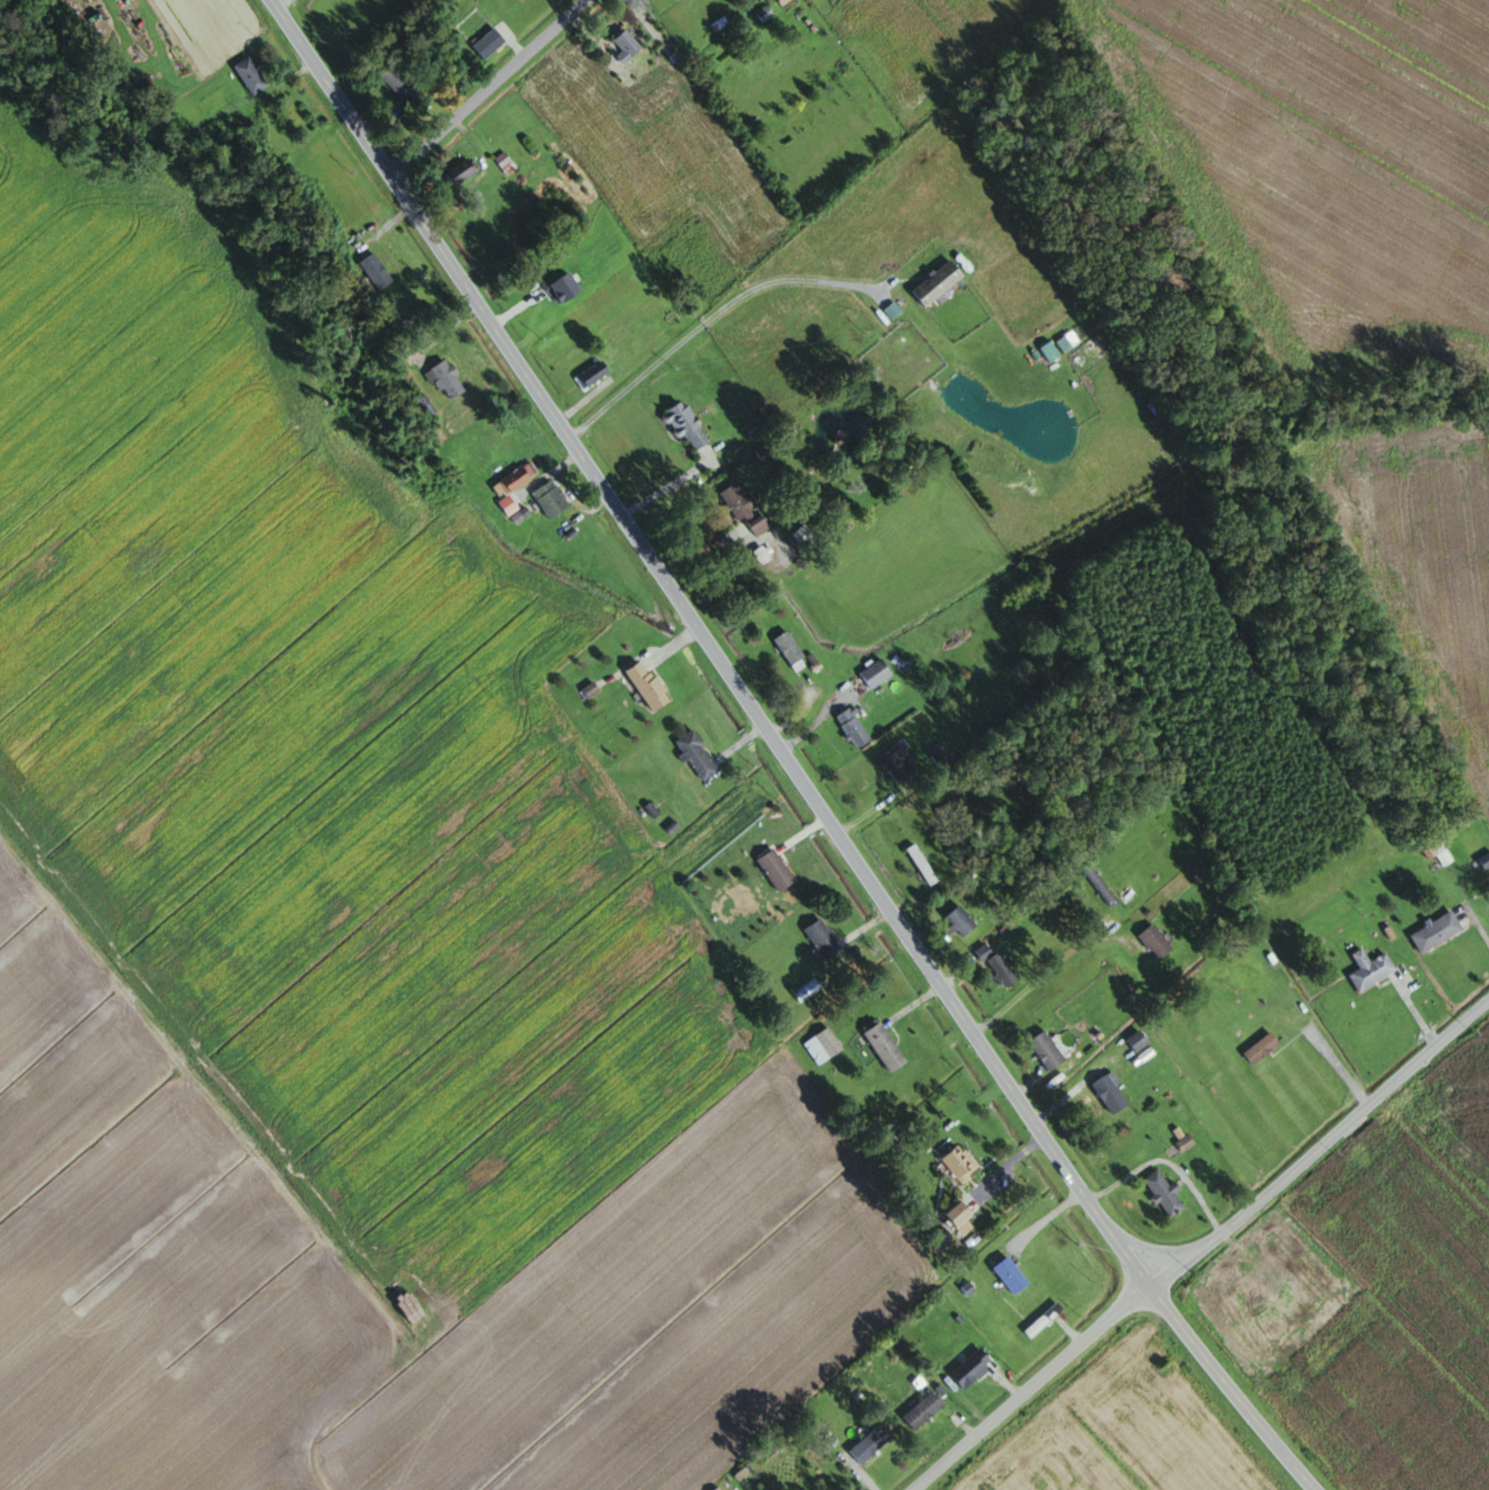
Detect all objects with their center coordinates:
building: (676, 0)
building: (783, 1)
building: (765, 14)
building: (626, 45)
building: (251, 75)
building: (401, 86)
road: (494, 90)
building: (505, 163)
building: (460, 173)
building: (376, 272)
building: (938, 283)
road: (708, 319)
building: (1055, 349)
building: (593, 375)
building: (446, 381)
building: (686, 426)
building: (515, 480)
building: (550, 500)
building: (743, 508)
building: (520, 516)
road: (907, 579)
building: (789, 649)
building: (875, 675)
building: (648, 686)
building: (852, 728)
road: (782, 753)
building: (697, 756)
building: (898, 763)
building: (1441, 854)
building: (1485, 860)
building: (922, 865)
building: (776, 871)
building: (1099, 888)
building: (961, 922)
building: (1436, 933)
building: (823, 940)
building: (1155, 942)
building: (997, 967)
building: (1370, 970)
road: (1045, 971)
building: (806, 991)
building: (1137, 1042)
building: (822, 1047)
building: (885, 1047)
building: (1262, 1049)
building: (1047, 1052)
road: (1330, 1058)
building: (1110, 1094)
building: (1185, 1143)
road: (1322, 1151)
building: (960, 1163)
road: (259, 1182)
building: (1164, 1194)
building: (959, 1215)
road: (1042, 1223)
building: (1011, 1276)
building: (1043, 1320)
building: (966, 1366)
road: (1034, 1390)
building: (924, 1410)
building: (870, 1445)
building: (717, 1489)

